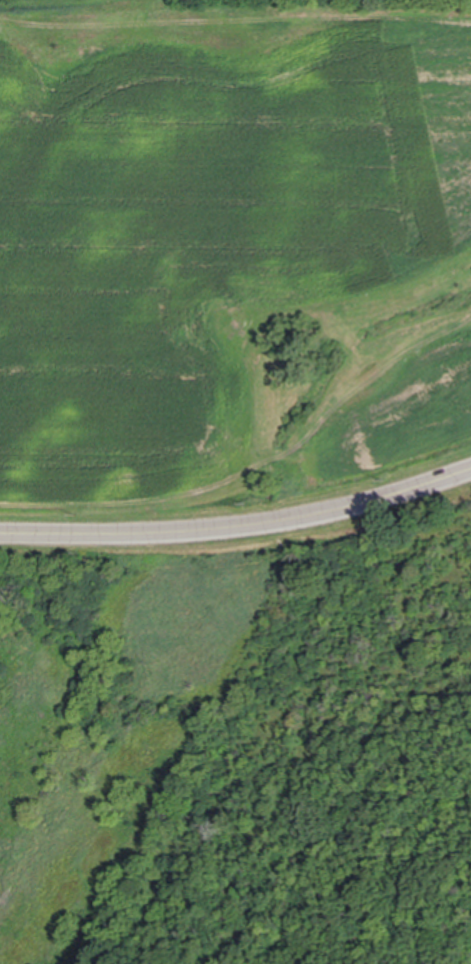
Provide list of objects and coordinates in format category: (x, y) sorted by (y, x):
road: (239, 522)

